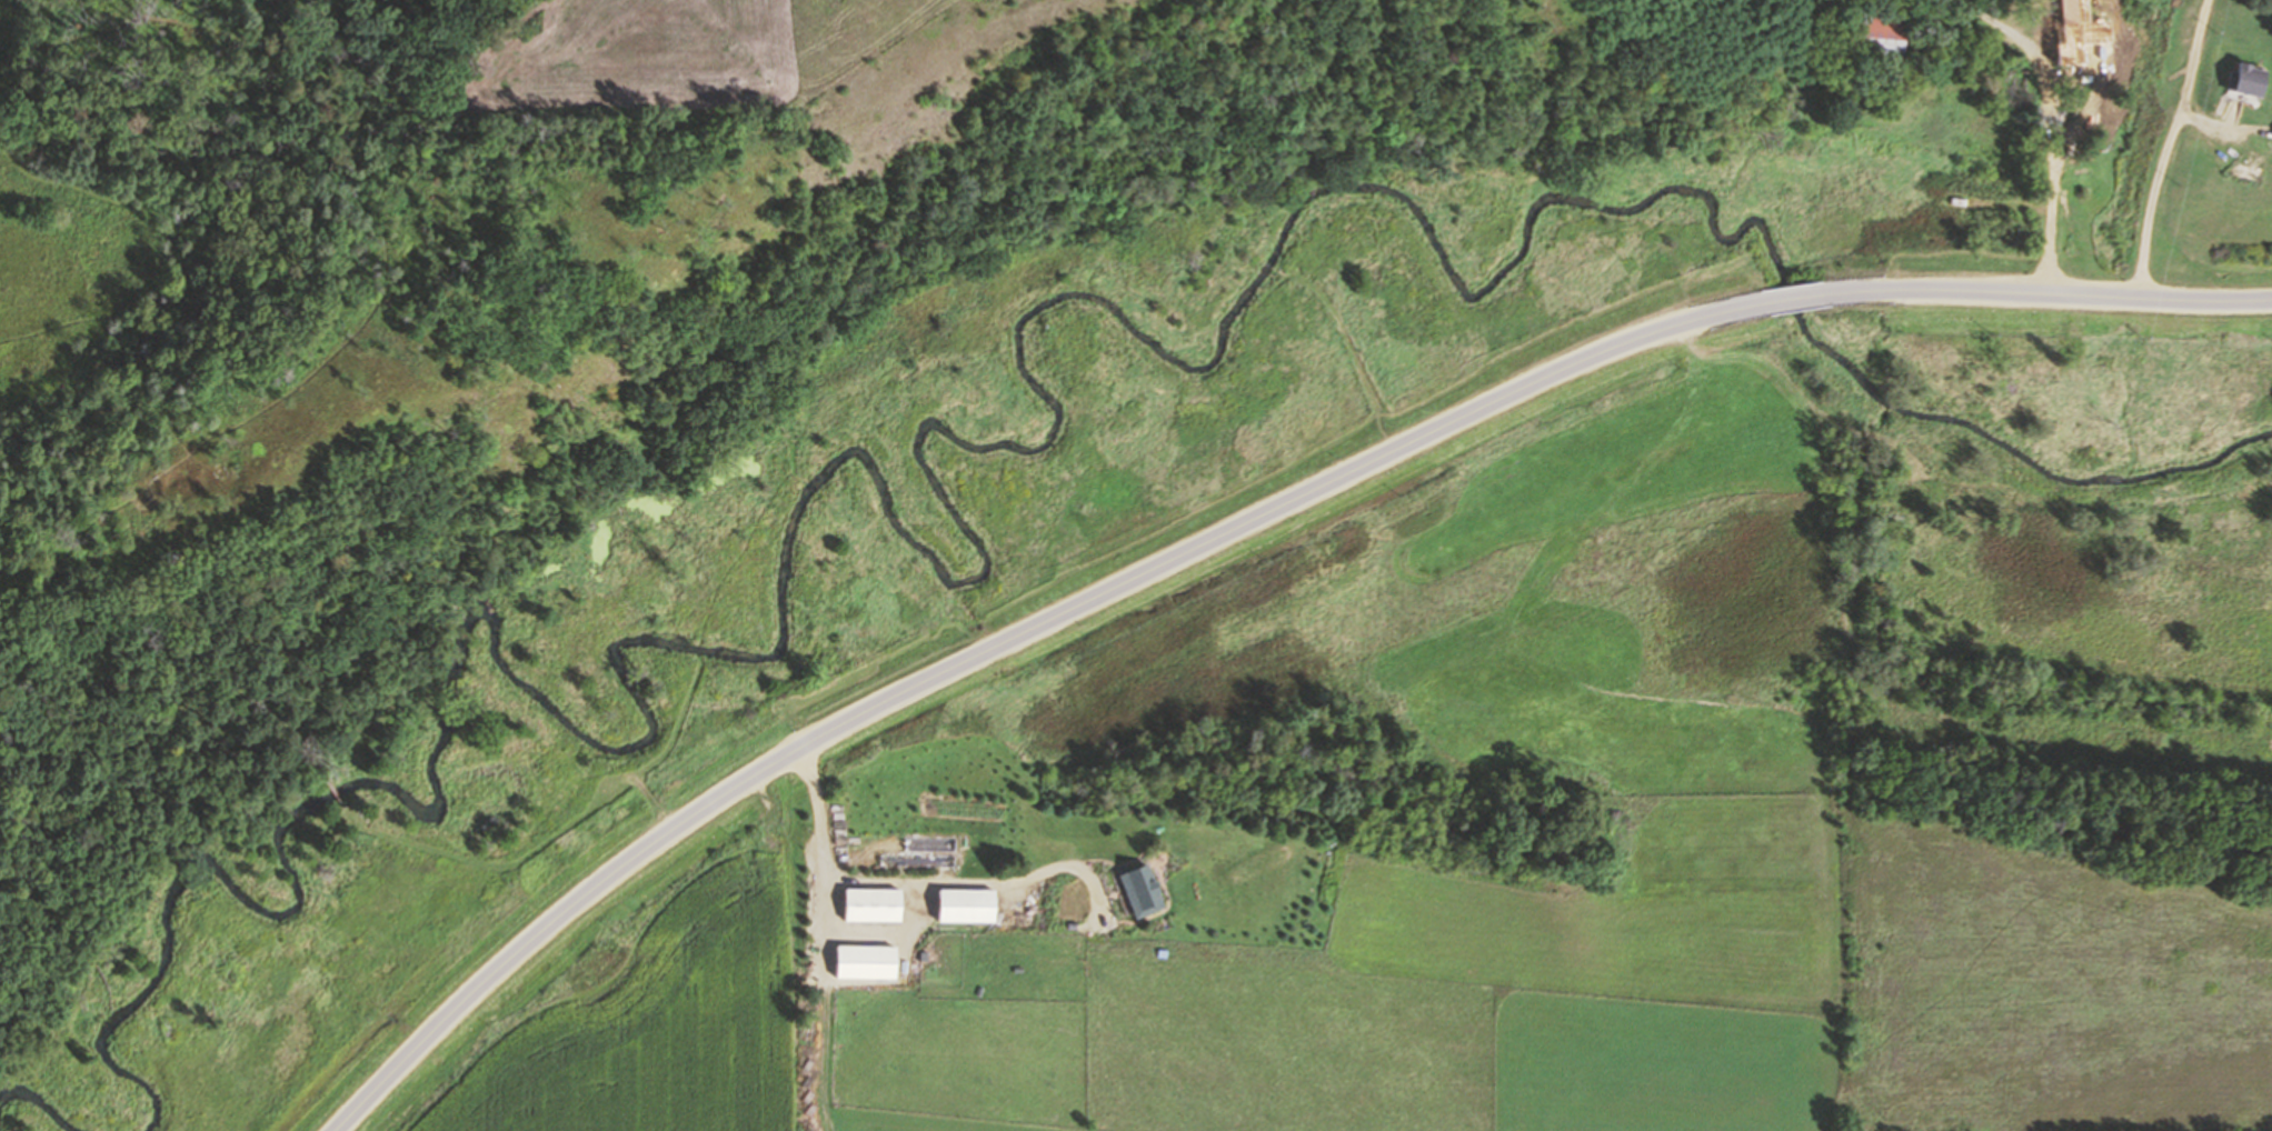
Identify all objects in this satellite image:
building: (2071, 31)
building: (1876, 36)
building: (2111, 48)
building: (1975, 69)
building: (2246, 77)
road: (2050, 126)
road: (2170, 149)
building: (2249, 154)
road: (2044, 294)
road: (1793, 300)
building: (160, 450)
road: (1007, 641)
road: (337, 793)
road: (920, 884)
building: (1138, 892)
building: (874, 907)
building: (967, 907)
road: (873, 939)
building: (868, 964)

